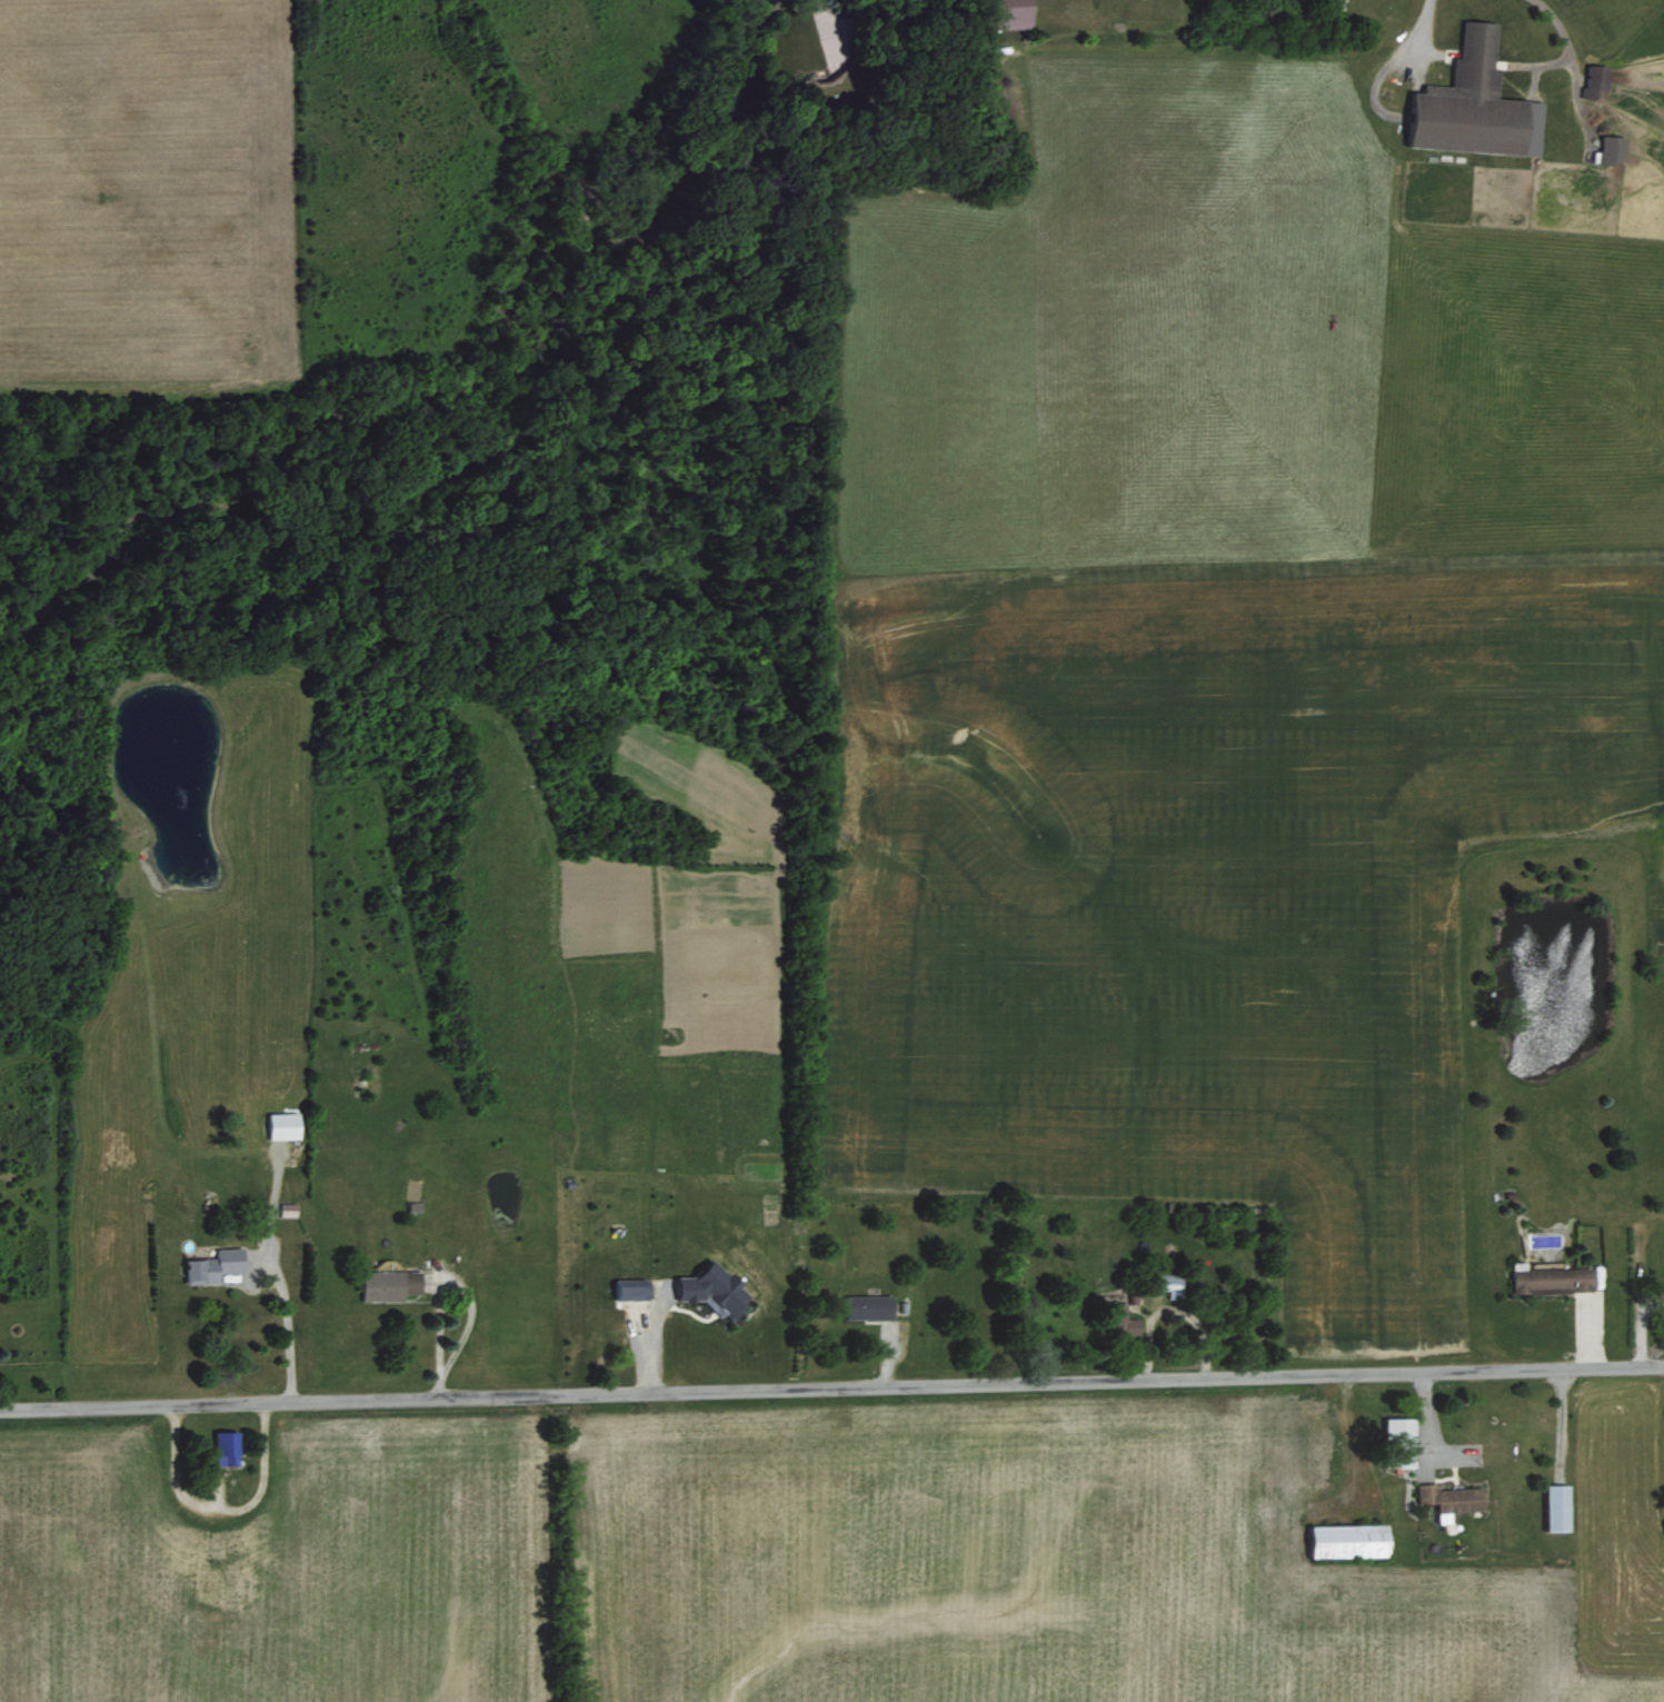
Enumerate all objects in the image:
building: (1013, 12)
road: (1419, 22)
road: (821, 23)
building: (1475, 102)
building: (1612, 147)
building: (283, 1123)
building: (287, 1206)
building: (213, 1264)
road: (278, 1271)
building: (1550, 1276)
building: (389, 1282)
building: (1169, 1283)
building: (631, 1286)
building: (715, 1287)
building: (867, 1304)
road: (1632, 1306)
building: (1118, 1316)
road: (831, 1378)
road: (1425, 1424)
building: (226, 1445)
building: (1451, 1497)
building: (1557, 1504)
road: (219, 1505)
building: (1349, 1537)

